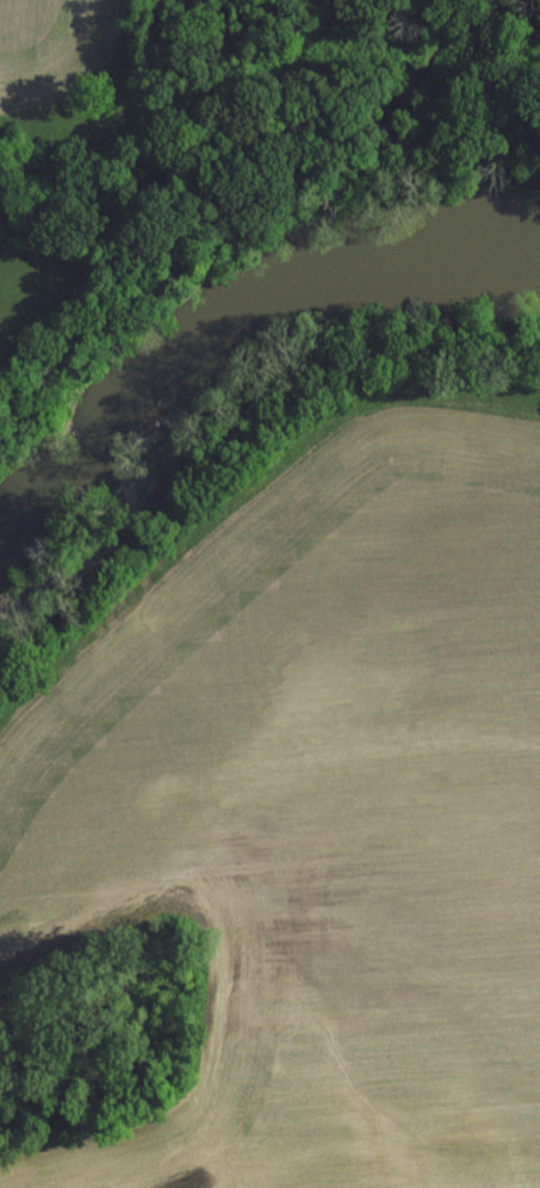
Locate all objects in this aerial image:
river: (223, 330)

